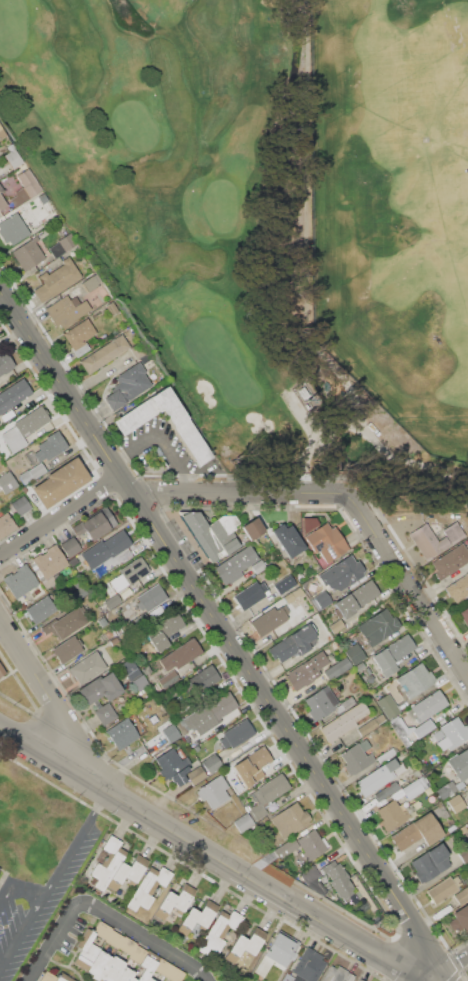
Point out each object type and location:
building: (2, 132)
building: (13, 156)
building: (0, 169)
building: (25, 187)
building: (1, 188)
park: (391, 198)
building: (2, 202)
park: (270, 209)
building: (13, 228)
building: (63, 245)
building: (28, 253)
building: (57, 279)
building: (90, 283)
building: (113, 308)
building: (67, 310)
building: (80, 336)
building: (141, 352)
building: (105, 353)
building: (6, 363)
building: (128, 386)
building: (13, 395)
building: (8, 415)
building: (24, 428)
building: (184, 428)
building: (51, 446)
building: (4, 469)
building: (32, 473)
building: (7, 482)
building: (60, 482)
road: (245, 492)
building: (21, 505)
road: (62, 517)
building: (310, 523)
building: (96, 524)
building: (6, 525)
building: (255, 527)
building: (213, 533)
building: (436, 537)
building: (289, 539)
building: (327, 541)
building: (70, 546)
building: (106, 549)
building: (360, 554)
building: (121, 555)
building: (451, 560)
building: (50, 561)
building: (235, 565)
building: (259, 566)
building: (129, 573)
building: (343, 574)
building: (20, 581)
building: (286, 584)
road: (410, 584)
building: (135, 586)
building: (458, 588)
building: (78, 591)
building: (123, 594)
building: (251, 594)
building: (293, 594)
building: (362, 594)
building: (150, 598)
building: (320, 600)
building: (41, 609)
building: (464, 615)
building: (270, 619)
building: (102, 621)
building: (65, 623)
building: (337, 626)
building: (379, 626)
building: (166, 629)
road: (224, 630)
building: (114, 641)
building: (293, 643)
building: (67, 649)
building: (356, 653)
building: (392, 654)
building: (180, 655)
building: (87, 667)
building: (131, 669)
building: (336, 669)
building: (1, 670)
building: (306, 670)
building: (203, 679)
building: (415, 679)
building: (141, 682)
building: (100, 688)
building: (348, 702)
building: (321, 703)
building: (388, 705)
building: (426, 706)
road: (59, 707)
building: (215, 708)
building: (105, 714)
building: (167, 721)
building: (343, 722)
building: (371, 724)
building: (420, 730)
building: (120, 731)
building: (205, 732)
building: (400, 732)
building: (172, 733)
building: (236, 734)
building: (452, 734)
building: (357, 756)
building: (431, 759)
building: (212, 762)
building: (460, 764)
building: (173, 766)
building: (252, 766)
building: (196, 775)
building: (377, 777)
building: (270, 789)
building: (411, 789)
building: (448, 789)
building: (387, 790)
building: (214, 791)
building: (467, 793)
building: (279, 802)
building: (457, 803)
building: (257, 811)
building: (391, 815)
building: (290, 820)
building: (243, 822)
building: (452, 828)
building: (465, 828)
building: (418, 832)
building: (467, 833)
building: (467, 835)
building: (311, 844)
building: (285, 848)
building: (463, 853)
road: (212, 854)
building: (106, 862)
building: (431, 862)
building: (126, 873)
building: (309, 874)
building: (336, 874)
road: (52, 878)
building: (317, 886)
building: (148, 887)
road: (16, 888)
building: (443, 889)
building: (461, 895)
building: (174, 901)
building: (197, 917)
building: (462, 918)
building: (102, 930)
building: (219, 931)
road: (148, 938)
building: (114, 939)
road: (56, 941)
building: (127, 945)
building: (245, 945)
building: (86, 949)
building: (278, 953)
building: (137, 954)
building: (152, 956)
building: (98, 965)
building: (162, 966)
building: (306, 967)
building: (145, 968)
road: (450, 968)
building: (112, 969)
building: (174, 974)
building: (338, 974)
building: (124, 975)
building: (48, 977)
building: (63, 977)
building: (149, 979)
building: (358, 980)
building: (360, 980)

